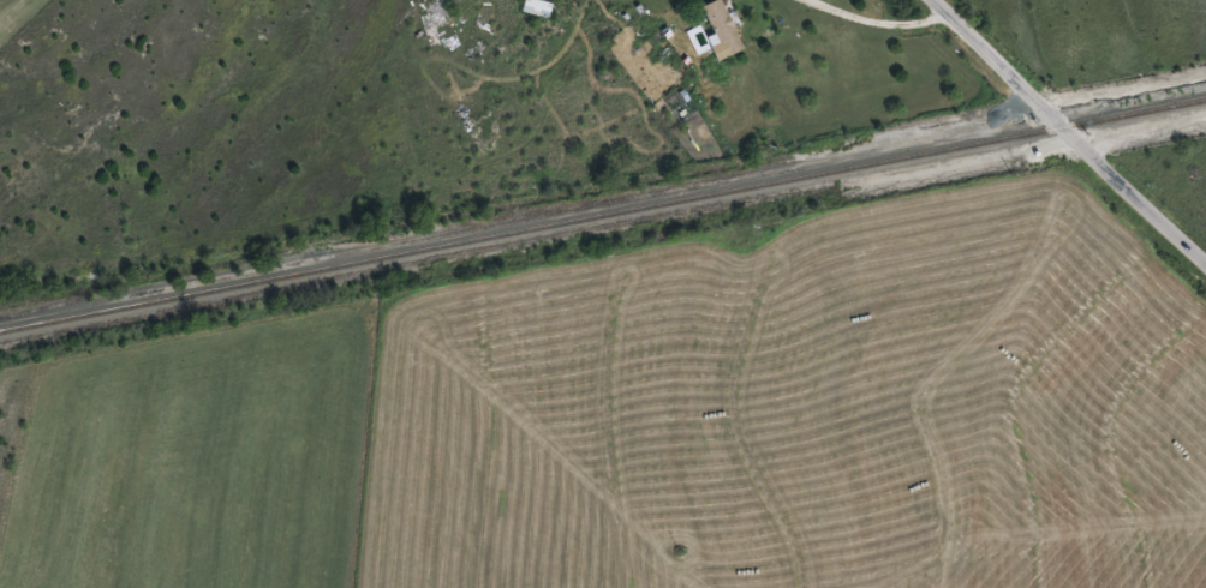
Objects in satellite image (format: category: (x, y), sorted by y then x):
building: (533, 7)
building: (717, 28)
road: (1070, 127)
railway: (602, 210)

